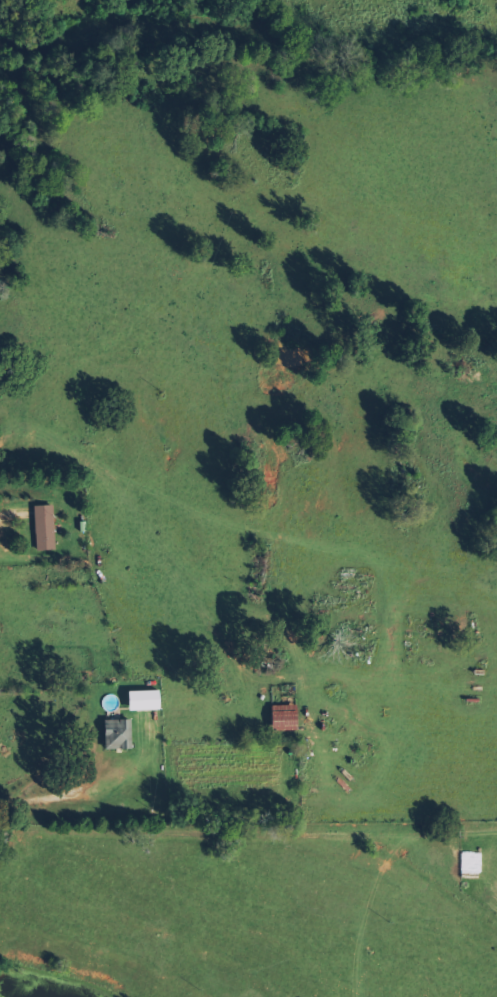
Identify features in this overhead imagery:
building: (40, 528)
building: (136, 700)
building: (114, 735)
road: (248, 786)

